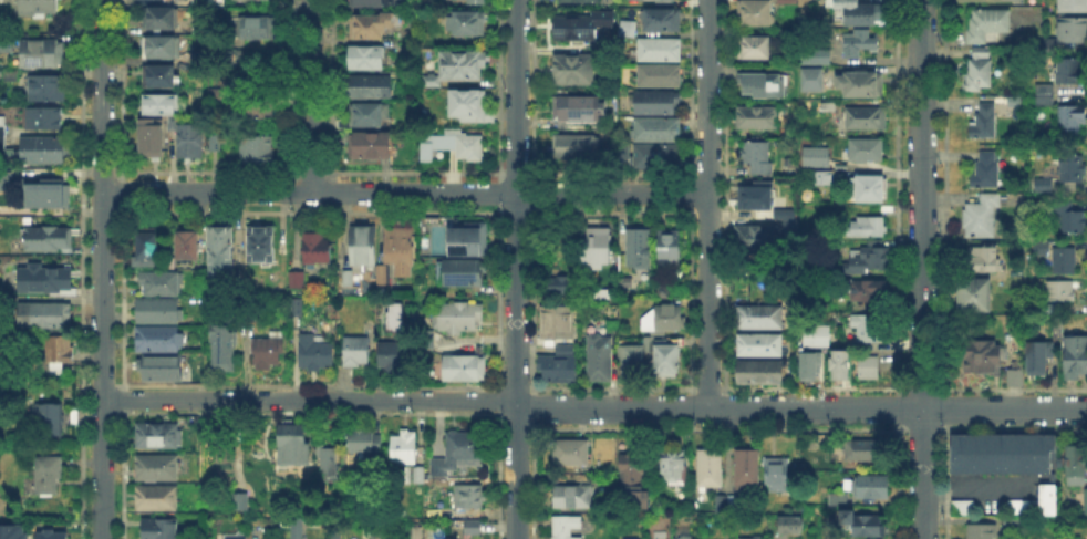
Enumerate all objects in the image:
building: (655, 0)
building: (578, 1)
building: (207, 2)
building: (479, 2)
building: (788, 2)
building: (373, 3)
building: (1073, 6)
building: (40, 9)
building: (754, 13)
building: (861, 14)
building: (159, 20)
building: (665, 21)
building: (469, 24)
building: (373, 27)
building: (987, 27)
building: (576, 28)
building: (258, 29)
building: (628, 30)
building: (1073, 30)
building: (790, 34)
building: (6, 42)
building: (427, 42)
building: (1050, 42)
building: (860, 43)
building: (163, 48)
building: (754, 49)
building: (660, 51)
building: (44, 54)
building: (237, 56)
building: (817, 58)
building: (365, 59)
building: (460, 68)
building: (574, 71)
building: (981, 72)
building: (1070, 73)
building: (660, 77)
building: (161, 79)
building: (814, 81)
building: (862, 84)
building: (765, 86)
building: (49, 89)
building: (371, 89)
building: (219, 94)
road: (310, 95)
building: (1045, 96)
building: (157, 103)
building: (655, 104)
building: (469, 107)
building: (829, 107)
building: (258, 108)
building: (578, 108)
building: (371, 117)
building: (758, 118)
building: (1070, 118)
building: (46, 120)
building: (867, 120)
building: (983, 124)
building: (1, 129)
building: (659, 129)
building: (148, 136)
building: (187, 139)
building: (211, 141)
building: (451, 143)
building: (370, 147)
building: (576, 147)
building: (257, 151)
building: (867, 151)
building: (43, 152)
building: (758, 156)
building: (817, 156)
building: (659, 157)
building: (1074, 169)
building: (985, 172)
building: (819, 176)
building: (6, 178)
building: (1042, 183)
building: (867, 186)
building: (45, 191)
road: (404, 191)
building: (757, 197)
road: (708, 204)
building: (982, 218)
building: (1068, 219)
building: (790, 220)
building: (869, 227)
building: (758, 238)
building: (50, 240)
building: (188, 243)
building: (262, 245)
building: (599, 246)
building: (148, 248)
building: (670, 248)
building: (317, 249)
building: (221, 250)
building: (401, 251)
building: (638, 251)
building: (367, 255)
building: (466, 258)
building: (1058, 258)
building: (866, 260)
building: (985, 260)
road: (100, 269)
road: (515, 269)
road: (923, 269)
building: (46, 279)
building: (349, 279)
building: (298, 281)
building: (161, 284)
building: (561, 288)
building: (662, 290)
building: (866, 292)
building: (1062, 292)
building: (975, 297)
building: (1053, 310)
building: (159, 311)
building: (392, 315)
building: (44, 317)
building: (458, 318)
building: (762, 318)
building: (663, 319)
building: (415, 320)
building: (559, 323)
building: (870, 329)
building: (1058, 329)
building: (814, 334)
building: (161, 340)
building: (845, 340)
building: (224, 345)
building: (760, 345)
building: (312, 351)
building: (268, 353)
building: (356, 353)
building: (60, 354)
building: (392, 356)
building: (1041, 356)
building: (984, 357)
building: (1076, 357)
building: (670, 359)
building: (600, 360)
building: (632, 362)
building: (199, 364)
building: (866, 365)
building: (560, 366)
building: (841, 366)
building: (809, 367)
building: (161, 370)
building: (467, 370)
building: (760, 373)
building: (1017, 376)
road: (593, 408)
building: (52, 421)
building: (158, 436)
building: (366, 443)
building: (294, 445)
building: (404, 447)
building: (459, 452)
building: (861, 452)
building: (571, 454)
building: (1003, 455)
building: (329, 463)
building: (1073, 464)
building: (674, 466)
building: (157, 468)
building: (711, 469)
building: (747, 469)
building: (417, 474)
building: (777, 474)
building: (406, 475)
building: (48, 477)
building: (634, 480)
building: (870, 487)
building: (573, 497)
building: (470, 498)
building: (840, 499)
building: (157, 500)
building: (237, 500)
building: (1084, 501)
building: (722, 504)
building: (1038, 504)
building: (964, 509)
building: (1011, 524)
building: (863, 525)
building: (794, 526)
building: (567, 527)
building: (474, 529)
building: (161, 530)
building: (12, 532)
building: (983, 532)
building: (298, 533)
building: (418, 533)
building: (337, 535)
building: (52, 537)
building: (677, 537)
building: (746, 537)
building: (231, 538)
building: (629, 538)

